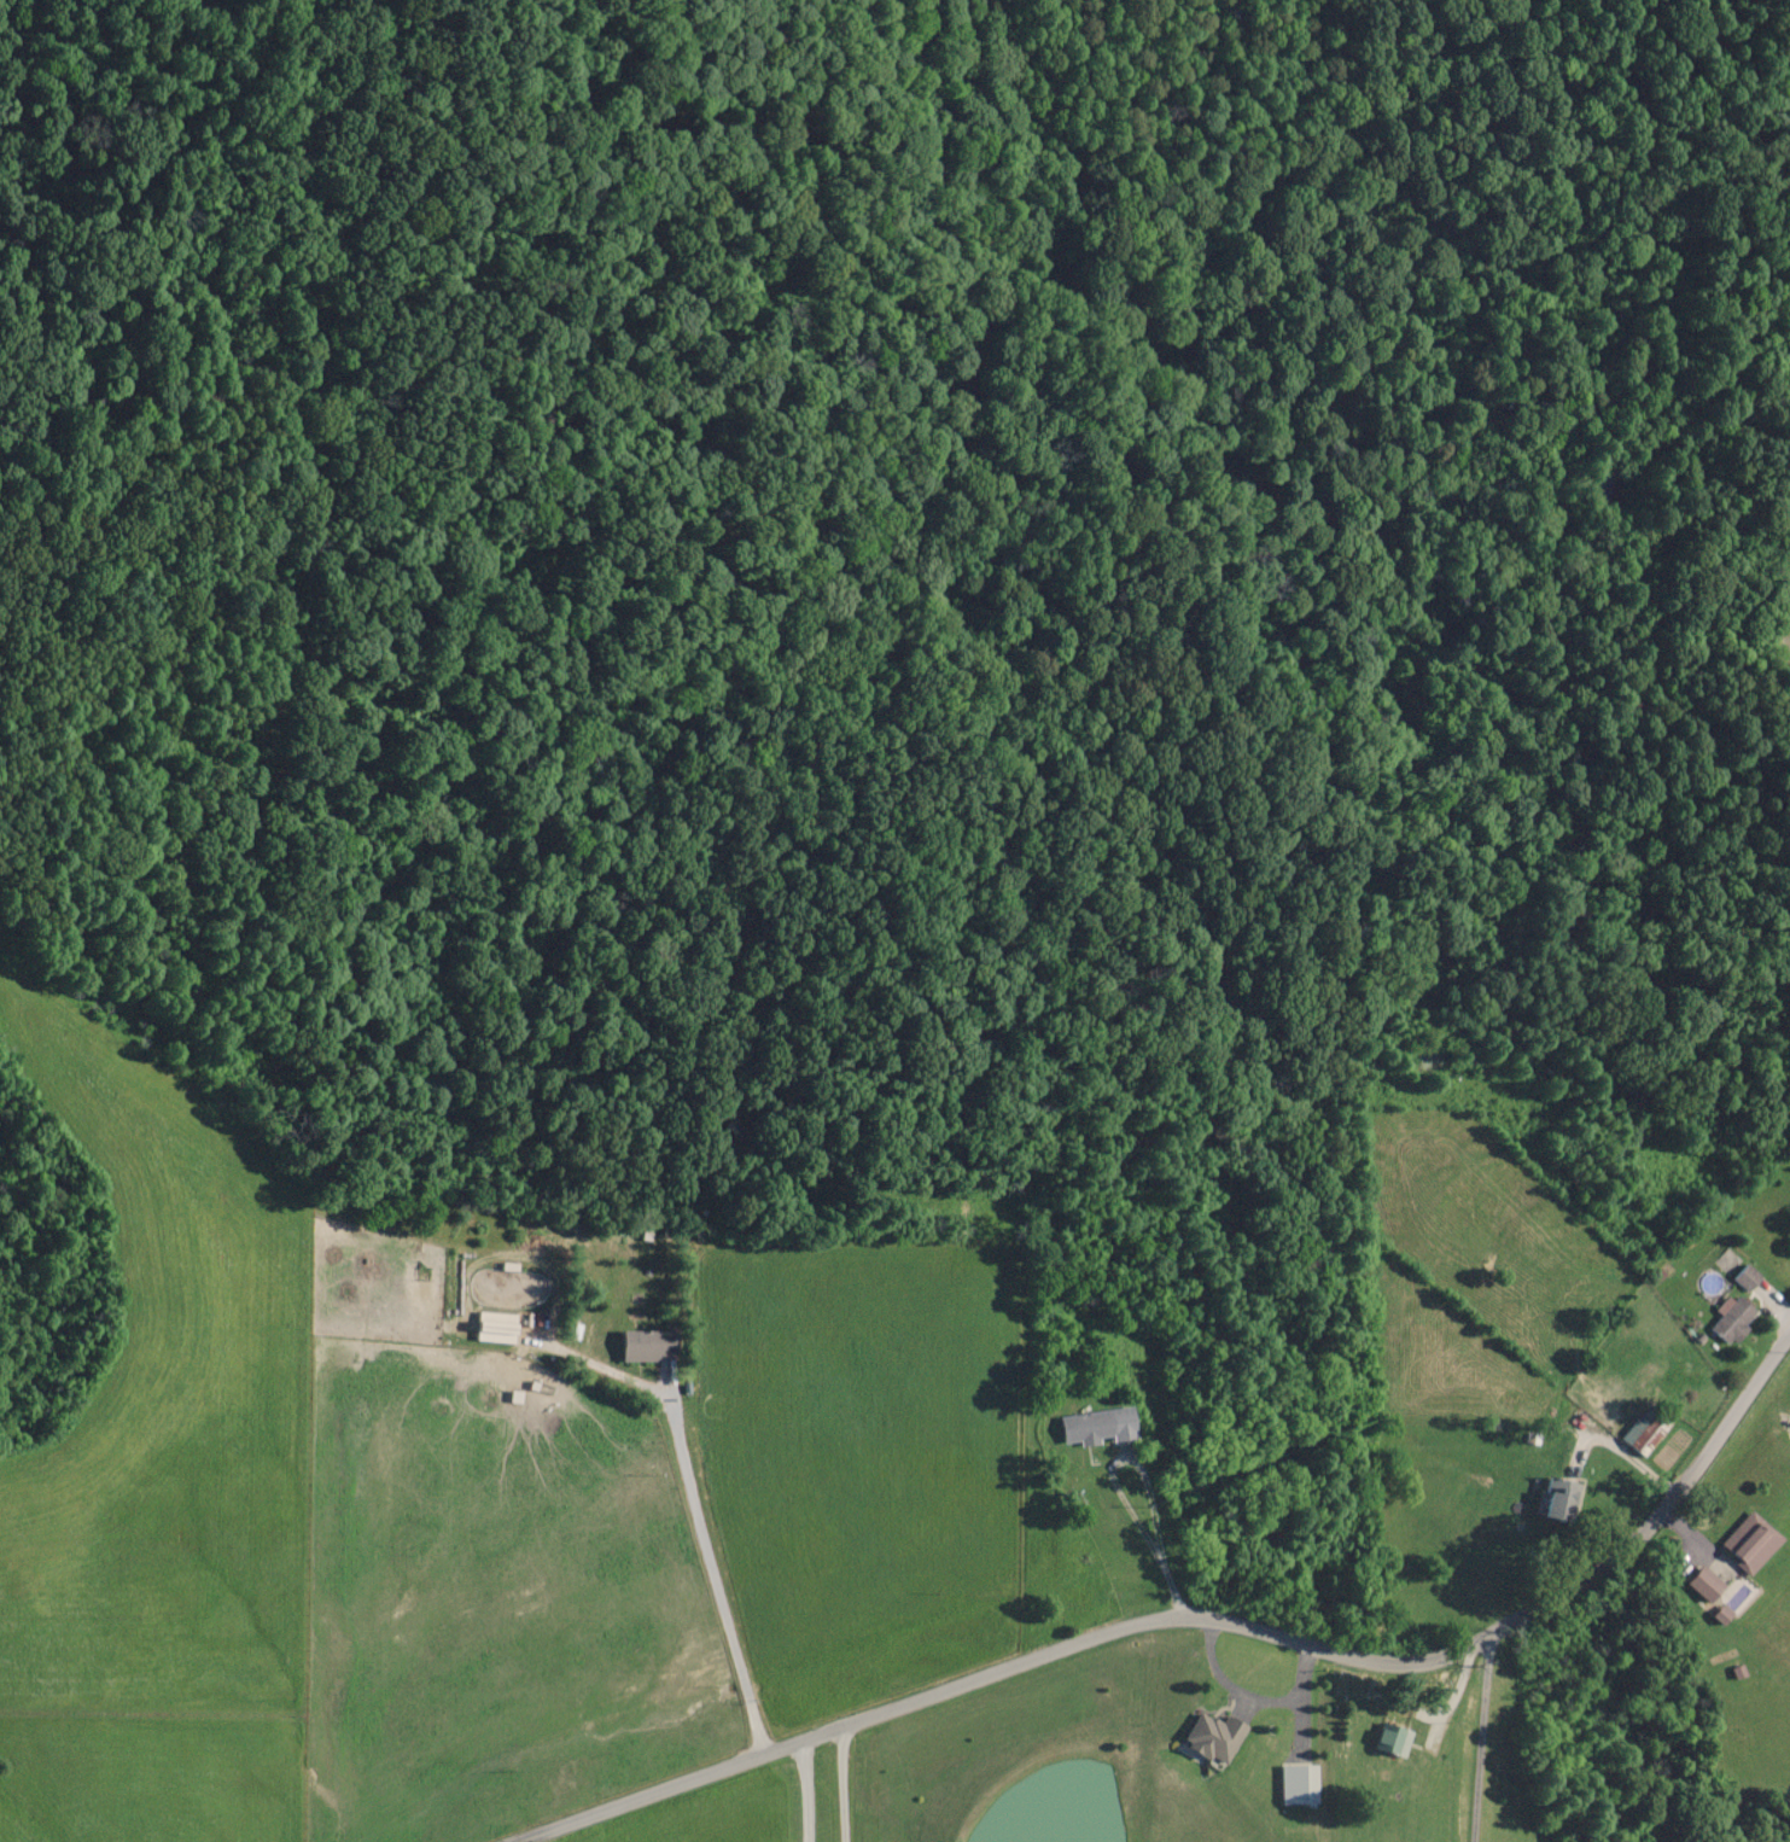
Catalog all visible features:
building: (1745, 1278)
building: (1733, 1322)
building: (496, 1328)
building: (648, 1346)
building: (1098, 1427)
building: (1645, 1430)
building: (1558, 1500)
building: (1751, 1543)
building: (1706, 1585)
road: (1205, 1619)
building: (1213, 1738)
building: (1392, 1741)
building: (1298, 1785)

